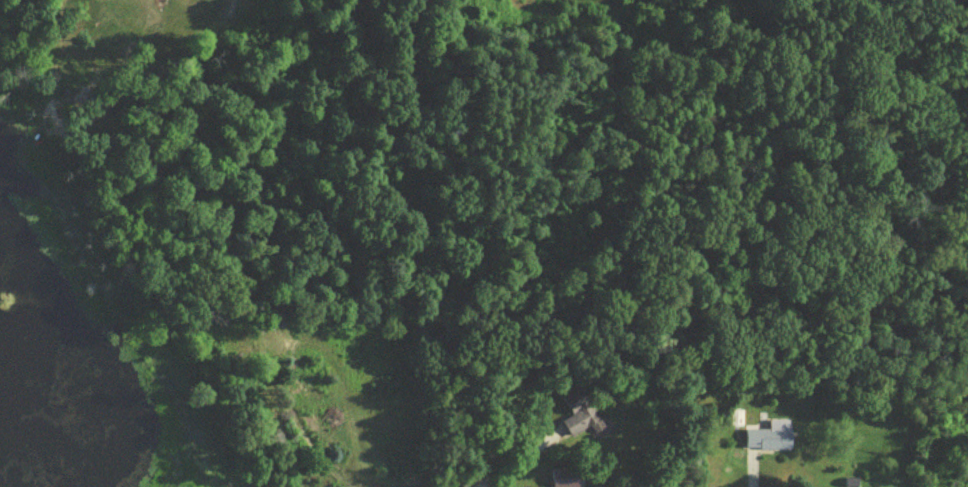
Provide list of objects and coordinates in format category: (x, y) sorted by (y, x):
building: (223, 347)
road: (323, 419)
building: (585, 421)
building: (771, 440)
road: (508, 452)
building: (568, 481)

